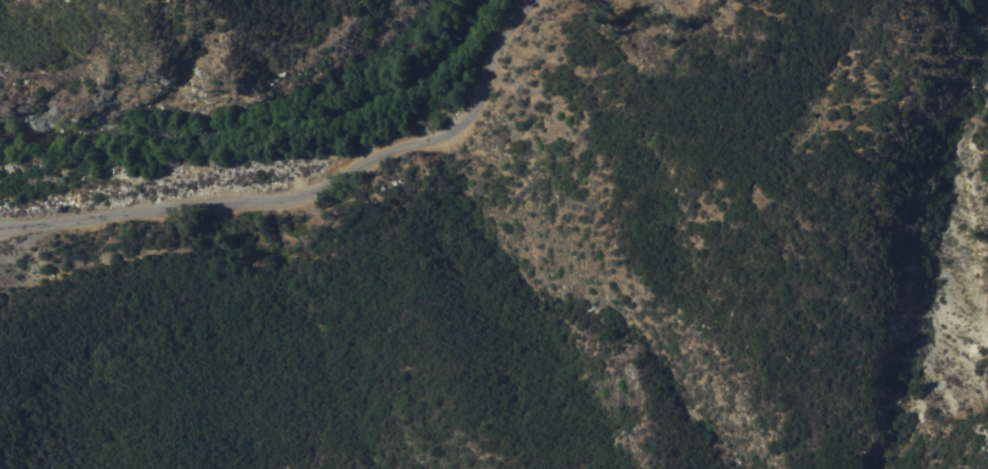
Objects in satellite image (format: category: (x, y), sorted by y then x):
river: (262, 122)
road: (307, 190)

